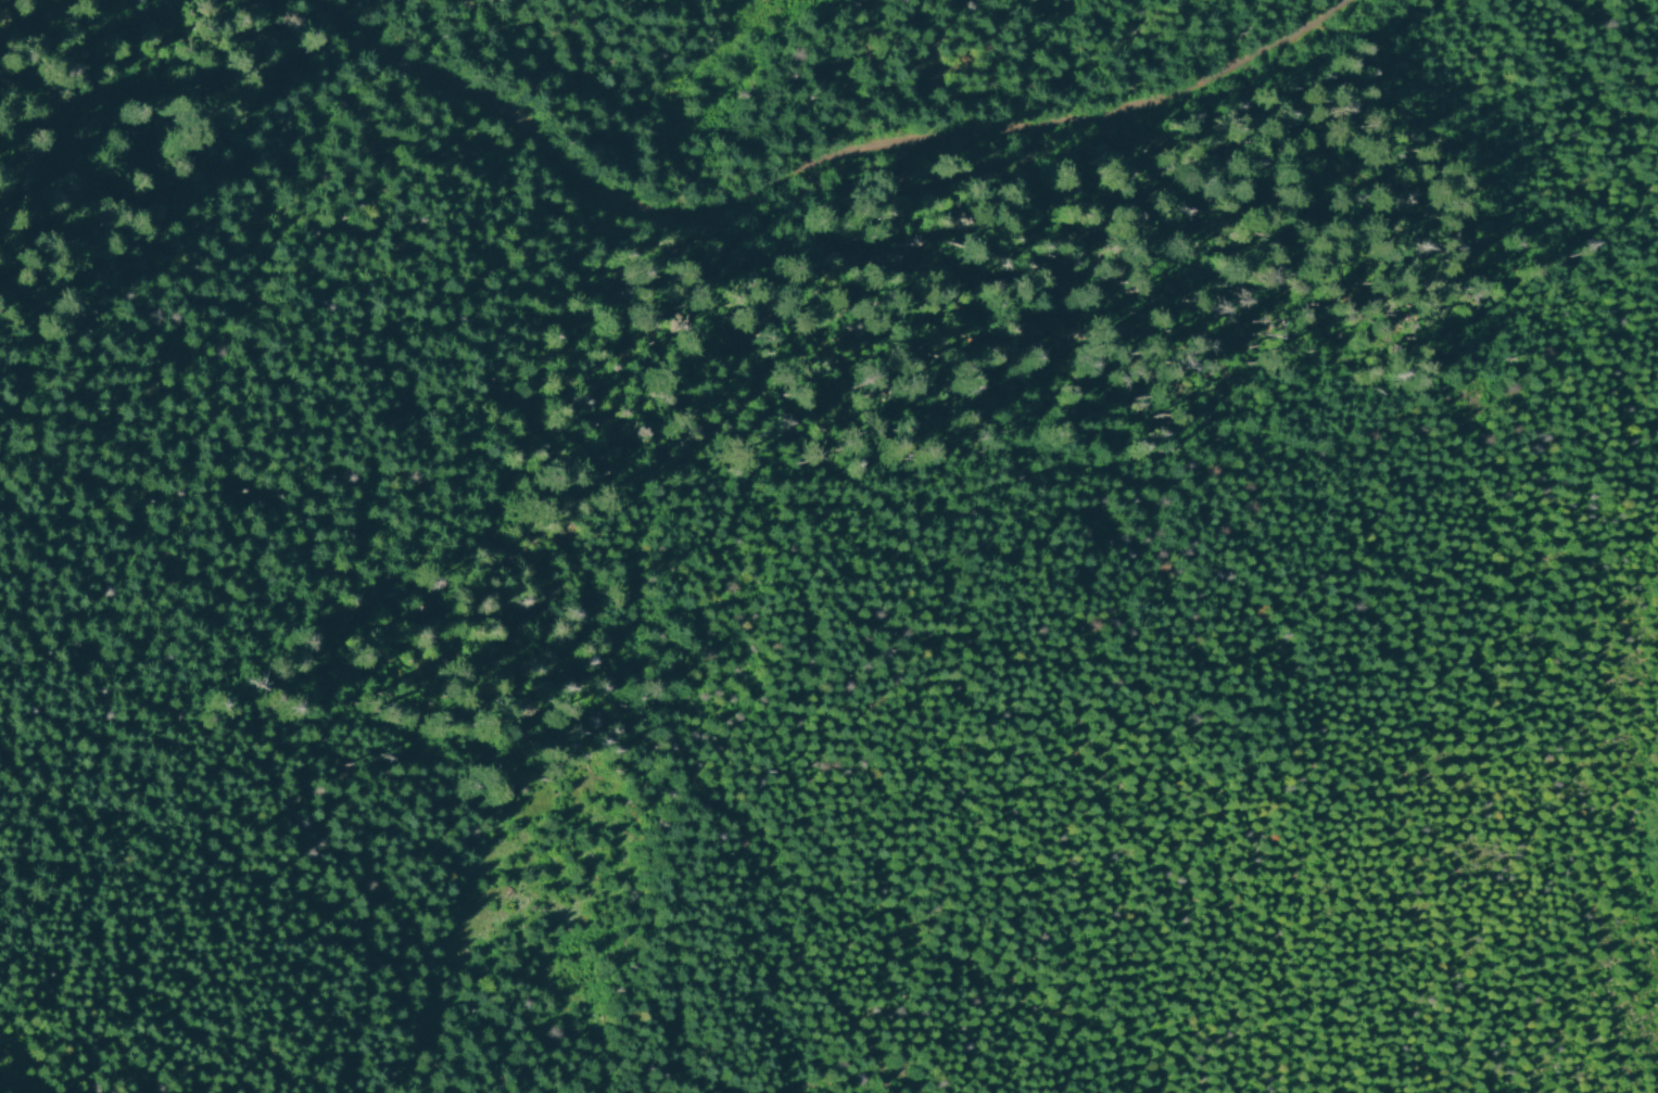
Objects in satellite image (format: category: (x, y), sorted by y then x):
road: (811, 173)

